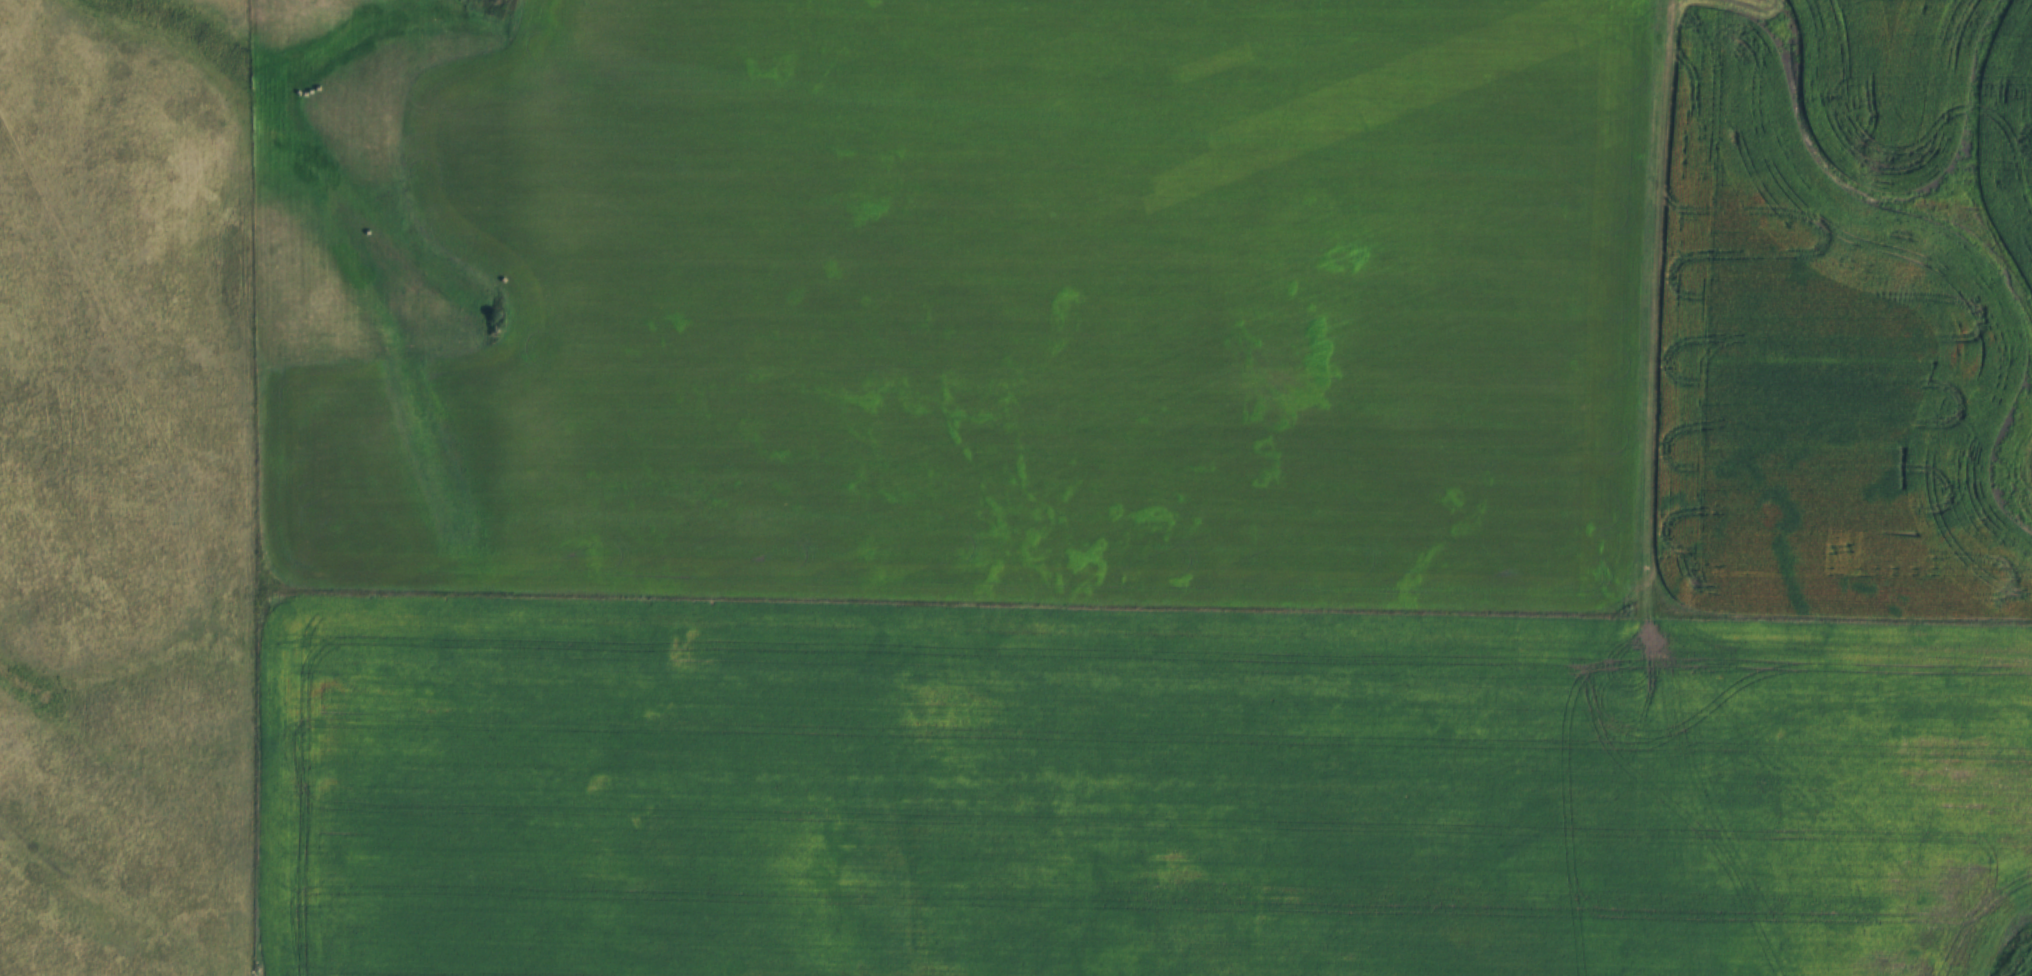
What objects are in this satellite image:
road: (1658, 319)

